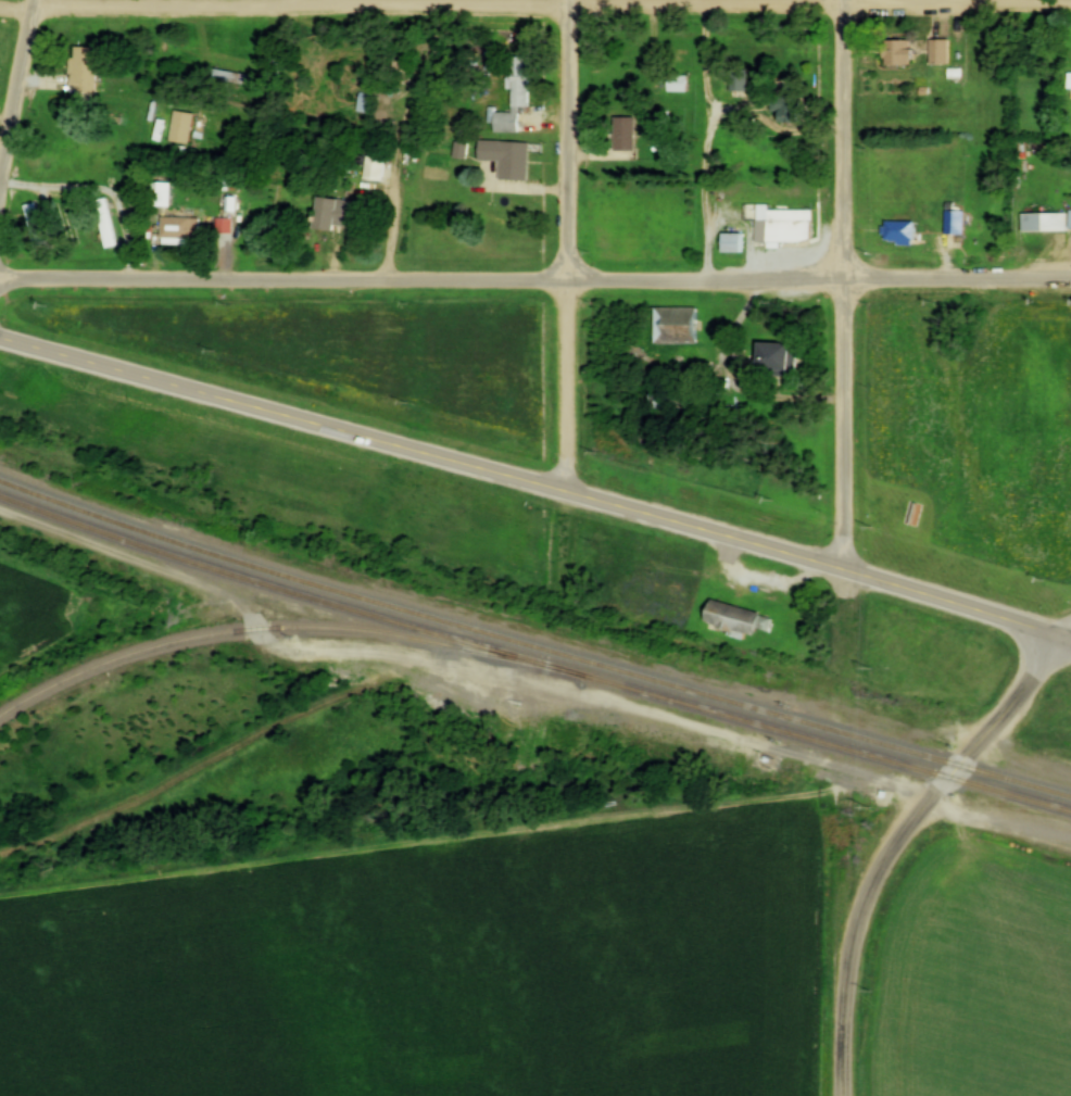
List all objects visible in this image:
road: (316, 3)
road: (554, 8)
road: (18, 9)
building: (937, 53)
building: (897, 54)
building: (89, 72)
building: (232, 78)
building: (1068, 80)
building: (744, 84)
building: (526, 85)
building: (683, 85)
building: (364, 104)
building: (792, 111)
road: (18, 113)
building: (512, 124)
building: (187, 129)
building: (630, 136)
building: (465, 152)
building: (513, 161)
building: (338, 215)
building: (1069, 222)
building: (1031, 223)
building: (959, 224)
building: (111, 225)
building: (792, 227)
building: (41, 228)
building: (185, 230)
building: (904, 235)
building: (730, 243)
road: (575, 245)
road: (960, 280)
road: (424, 281)
road: (849, 284)
building: (669, 326)
building: (774, 358)
building: (667, 398)
road: (537, 483)
building: (736, 619)
railway: (281, 628)
road: (1064, 634)
railway: (532, 645)
railway: (532, 660)
road: (983, 741)
road: (847, 960)
crop: (428, 969)

